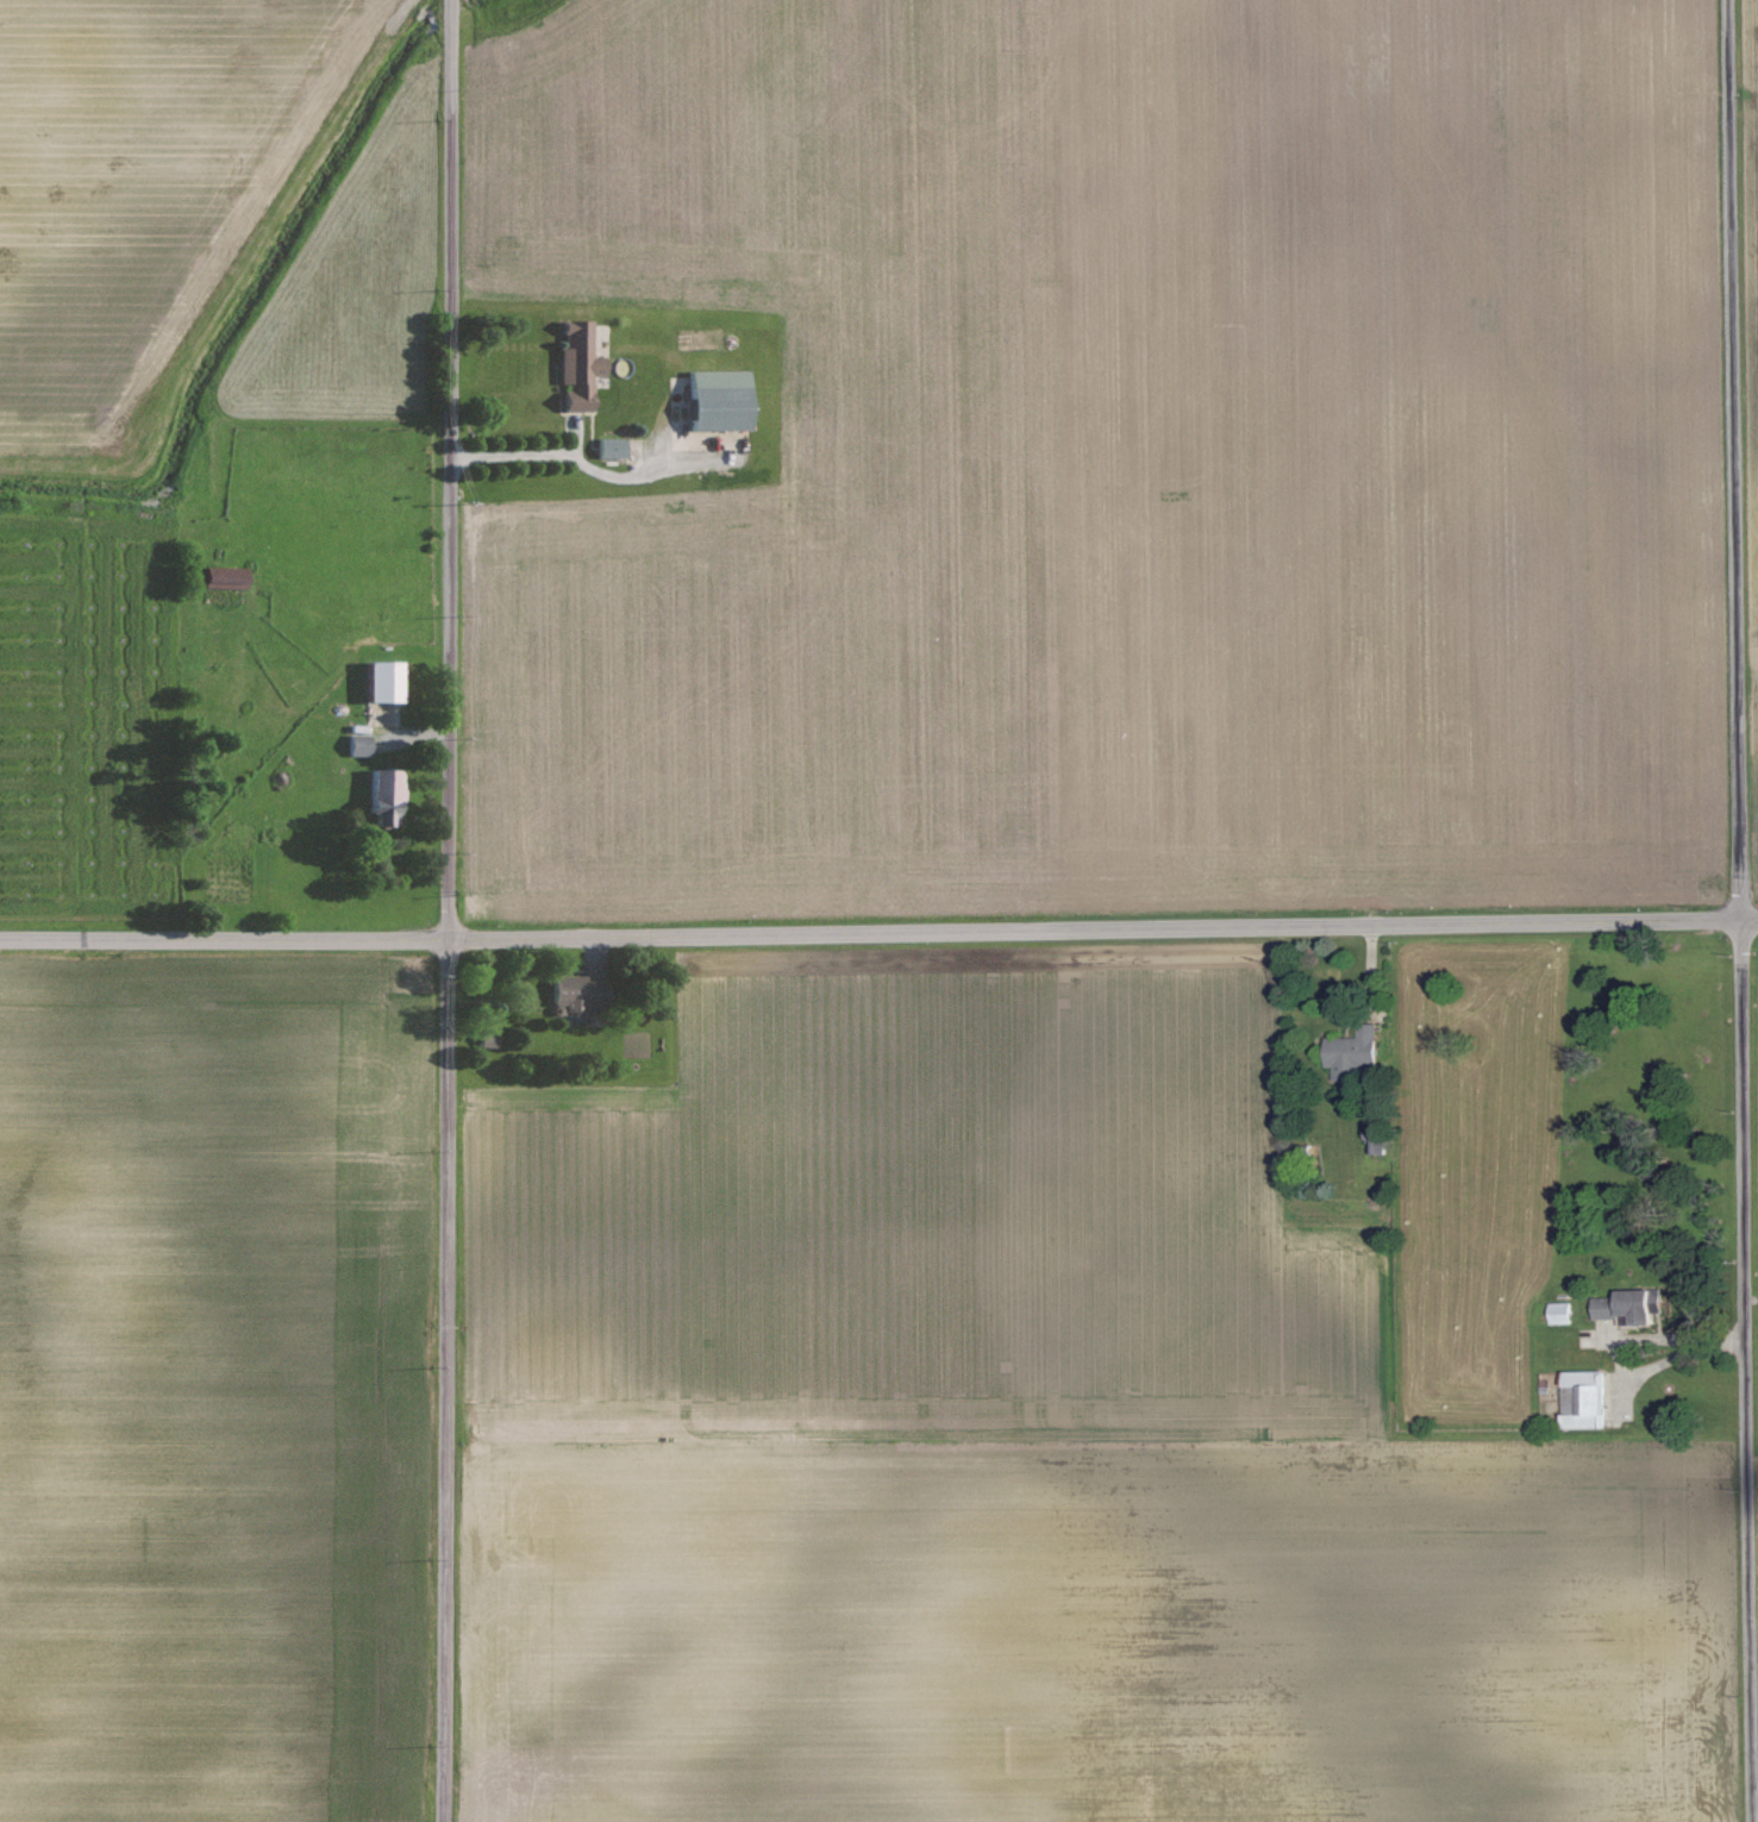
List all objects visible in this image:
building: (573, 365)
building: (711, 399)
building: (605, 447)
road: (568, 457)
road: (449, 469)
building: (219, 577)
building: (378, 681)
building: (354, 745)
building: (377, 796)
road: (1741, 910)
road: (878, 932)
building: (569, 993)
building: (482, 1038)
building: (1349, 1053)
building: (1372, 1140)
building: (1627, 1306)
building: (1558, 1313)
road: (1628, 1339)
road: (446, 1380)
building: (1581, 1400)

